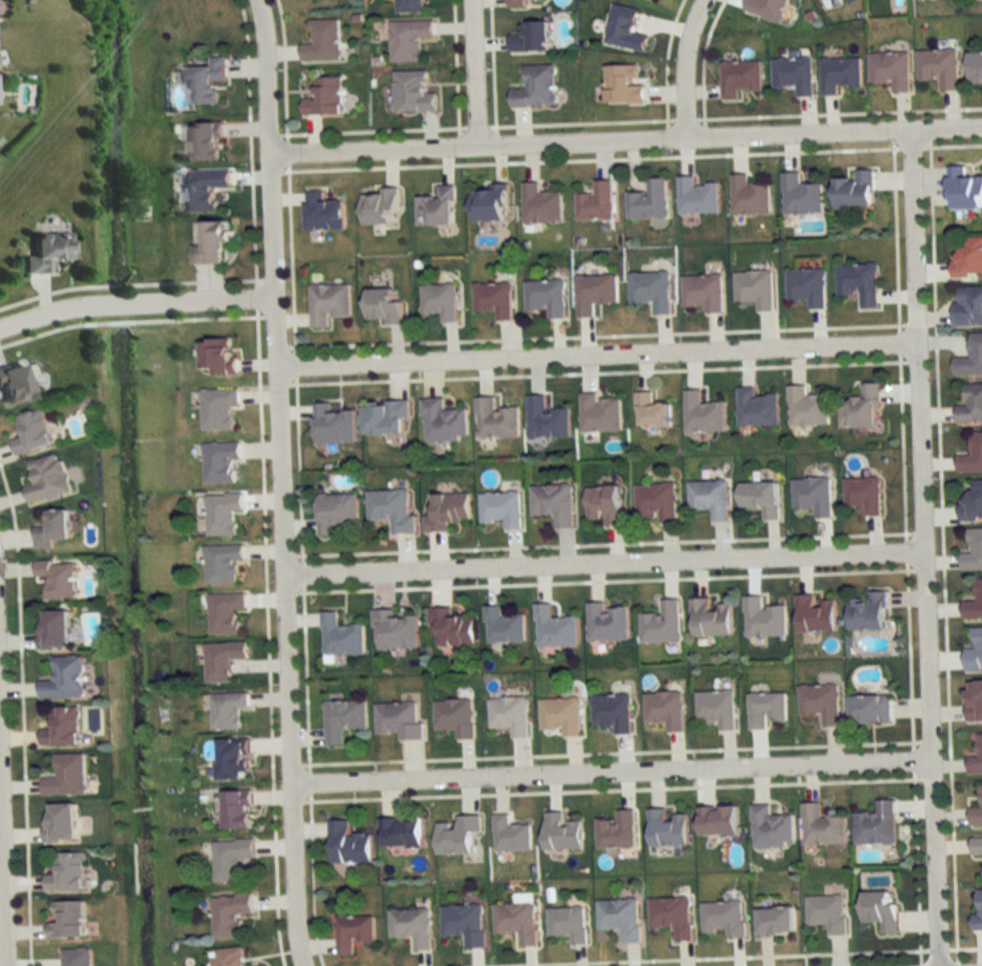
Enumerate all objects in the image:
building: (523, 2)
building: (410, 6)
building: (767, 8)
building: (624, 29)
building: (531, 37)
building: (409, 39)
building: (323, 41)
road: (701, 59)
road: (664, 62)
road: (491, 65)
road: (682, 65)
building: (939, 67)
building: (890, 69)
building: (974, 69)
road: (283, 70)
road: (472, 72)
building: (793, 74)
building: (838, 74)
building: (739, 77)
building: (206, 80)
building: (623, 84)
building: (536, 87)
building: (413, 92)
building: (326, 97)
road: (838, 112)
road: (683, 118)
road: (578, 121)
road: (475, 126)
road: (371, 130)
road: (624, 138)
building: (203, 141)
road: (250, 143)
road: (951, 145)
road: (909, 147)
road: (287, 152)
road: (589, 159)
building: (203, 189)
building: (964, 189)
building: (855, 191)
building: (800, 195)
building: (749, 196)
building: (696, 197)
building: (648, 201)
building: (596, 203)
building: (489, 205)
building: (541, 205)
building: (381, 207)
building: (437, 208)
building: (324, 212)
road: (895, 236)
building: (209, 242)
building: (46, 252)
building: (969, 256)
road: (291, 258)
road: (216, 280)
road: (133, 282)
building: (859, 283)
building: (807, 287)
building: (754, 288)
building: (651, 291)
road: (46, 292)
building: (702, 292)
building: (594, 294)
road: (255, 297)
building: (547, 297)
building: (494, 300)
building: (441, 301)
road: (135, 302)
building: (329, 303)
building: (383, 305)
building: (968, 305)
road: (130, 320)
road: (596, 335)
road: (898, 343)
road: (596, 354)
building: (218, 356)
building: (971, 358)
road: (295, 365)
road: (599, 372)
building: (12, 385)
building: (971, 404)
building: (807, 407)
building: (218, 408)
building: (756, 408)
building: (862, 409)
building: (652, 412)
building: (600, 413)
building: (703, 414)
building: (385, 417)
building: (496, 420)
building: (547, 420)
building: (444, 422)
building: (333, 425)
building: (31, 432)
road: (902, 447)
building: (972, 455)
building: (220, 461)
road: (298, 469)
building: (45, 479)
road: (280, 482)
building: (814, 495)
building: (864, 495)
building: (762, 498)
building: (710, 499)
building: (973, 500)
building: (555, 504)
building: (657, 504)
building: (604, 506)
building: (502, 509)
building: (391, 510)
building: (447, 511)
building: (222, 513)
building: (337, 513)
building: (51, 529)
road: (603, 543)
road: (922, 547)
road: (942, 550)
road: (906, 551)
building: (973, 551)
road: (603, 562)
building: (222, 563)
road: (302, 574)
building: (56, 579)
road: (604, 580)
building: (974, 605)
building: (225, 613)
building: (869, 613)
building: (816, 615)
building: (710, 619)
building: (764, 619)
building: (608, 623)
building: (663, 624)
building: (504, 626)
building: (452, 628)
building: (53, 629)
building: (555, 629)
building: (394, 631)
road: (267, 637)
building: (341, 637)
building: (974, 654)
road: (910, 655)
building: (222, 660)
road: (305, 677)
building: (63, 679)
building: (974, 701)
building: (821, 702)
building: (717, 709)
building: (766, 709)
building: (227, 710)
building: (665, 710)
building: (871, 710)
building: (613, 713)
road: (21, 716)
building: (510, 716)
building: (561, 716)
building: (455, 718)
building: (343, 720)
building: (399, 720)
building: (61, 728)
road: (610, 753)
building: (976, 757)
road: (913, 759)
building: (232, 760)
road: (609, 770)
building: (66, 776)
road: (308, 782)
road: (611, 789)
building: (237, 810)
building: (977, 815)
building: (718, 822)
building: (59, 823)
building: (877, 825)
building: (823, 827)
building: (667, 829)
building: (771, 829)
building: (617, 831)
building: (400, 833)
building: (562, 833)
building: (457, 835)
building: (511, 836)
building: (348, 844)
building: (977, 847)
building: (231, 859)
road: (917, 866)
building: (66, 874)
road: (311, 880)
building: (979, 909)
building: (881, 910)
building: (230, 914)
building: (828, 914)
building: (673, 916)
building: (621, 918)
building: (725, 919)
building: (66, 920)
building: (517, 922)
building: (776, 922)
building: (465, 924)
building: (568, 924)
building: (412, 927)
road: (1, 933)
building: (353, 933)
road: (965, 947)
road: (937, 948)
building: (77, 957)
building: (228, 957)
road: (709, 957)

